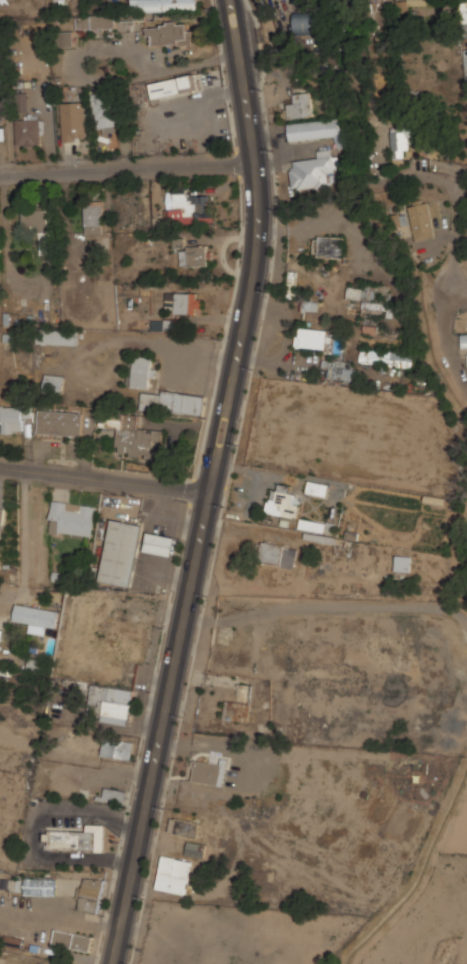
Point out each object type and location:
building: (418, 1)
building: (164, 5)
building: (130, 16)
building: (465, 16)
building: (307, 21)
building: (95, 22)
building: (169, 34)
building: (66, 39)
building: (466, 65)
road: (108, 82)
building: (170, 86)
road: (198, 96)
building: (301, 104)
building: (1, 116)
building: (73, 121)
building: (320, 129)
building: (28, 132)
building: (400, 139)
road: (128, 165)
building: (314, 170)
building: (188, 207)
road: (458, 208)
building: (93, 220)
building: (421, 222)
building: (38, 225)
road: (6, 243)
building: (328, 247)
building: (193, 256)
building: (359, 294)
building: (182, 303)
building: (310, 306)
building: (373, 307)
building: (162, 325)
building: (387, 328)
building: (369, 330)
building: (57, 337)
building: (311, 338)
building: (463, 340)
building: (142, 372)
building: (54, 382)
building: (172, 402)
building: (14, 418)
building: (59, 423)
building: (134, 436)
road: (104, 480)
road: (210, 483)
building: (317, 489)
building: (283, 502)
building: (1, 515)
building: (71, 519)
building: (312, 525)
road: (26, 543)
building: (159, 544)
building: (120, 553)
building: (278, 555)
building: (403, 563)
building: (36, 618)
building: (114, 703)
building: (236, 711)
building: (117, 748)
building: (210, 772)
building: (114, 796)
building: (183, 827)
building: (75, 838)
building: (195, 849)
building: (173, 875)
building: (39, 886)
building: (90, 898)
road: (59, 918)
building: (72, 940)
building: (40, 963)

